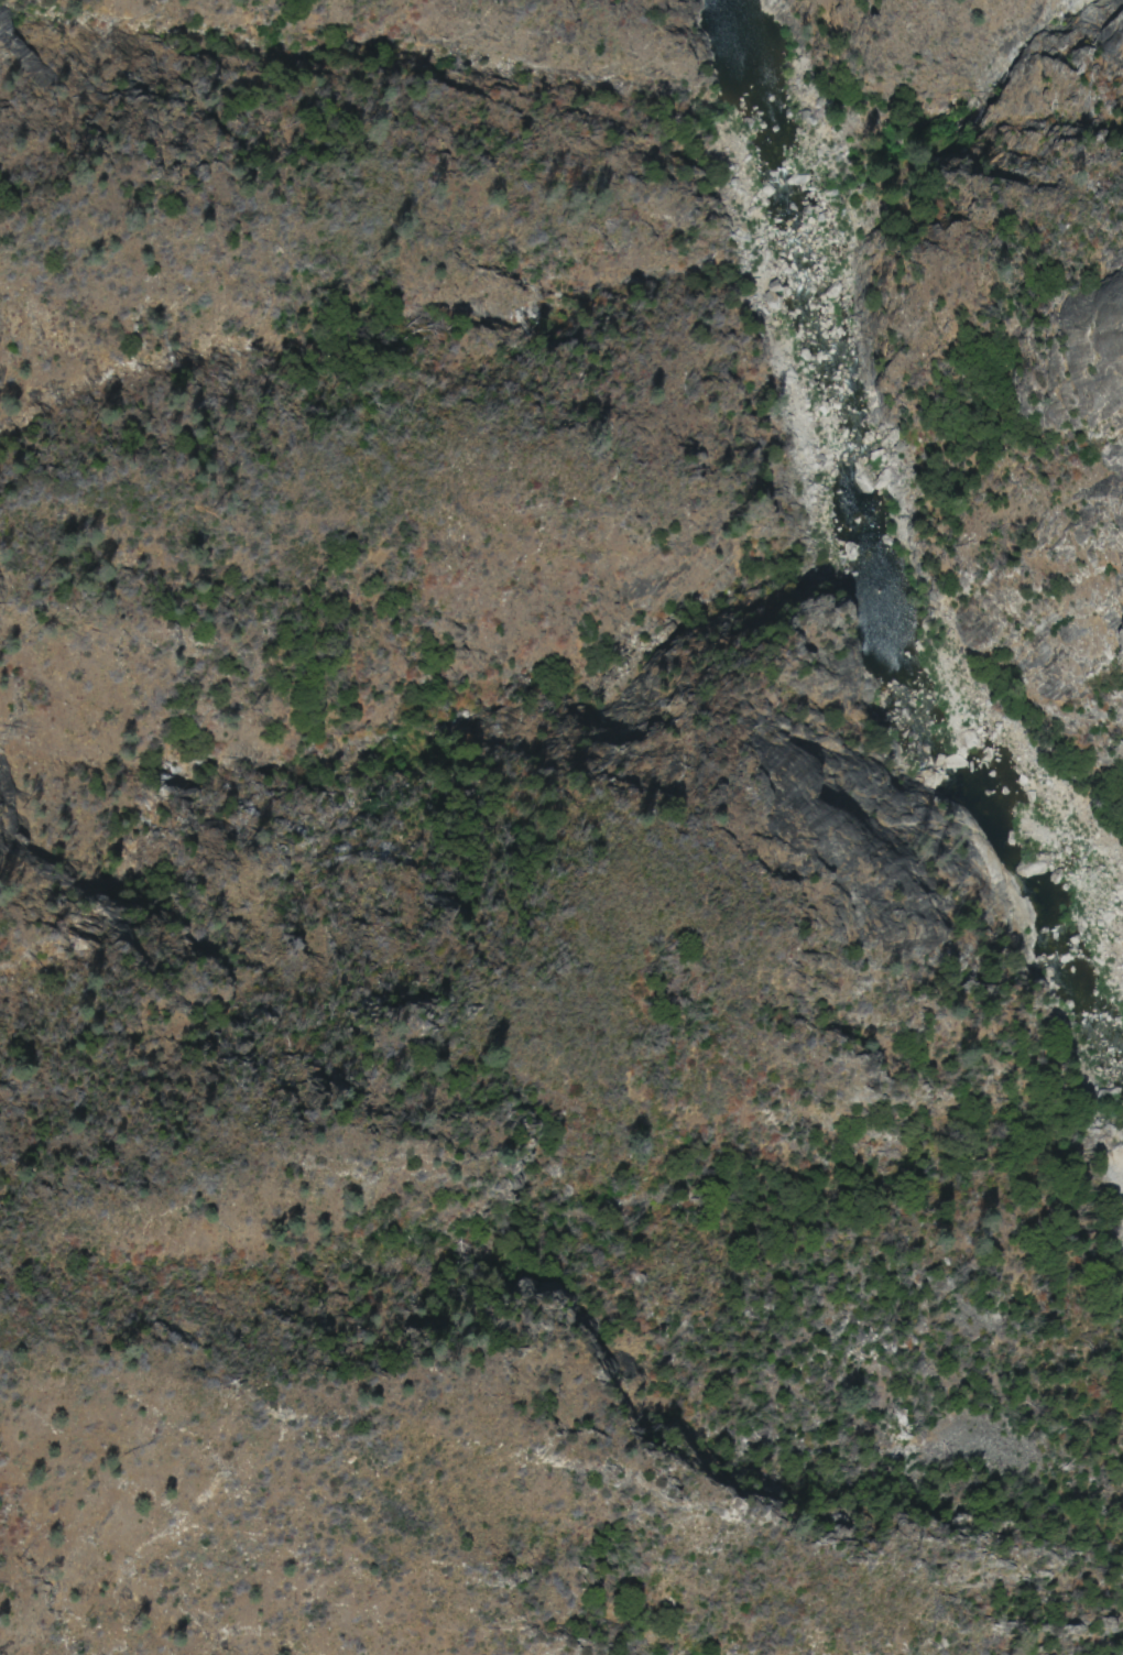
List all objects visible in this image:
river: (869, 581)

